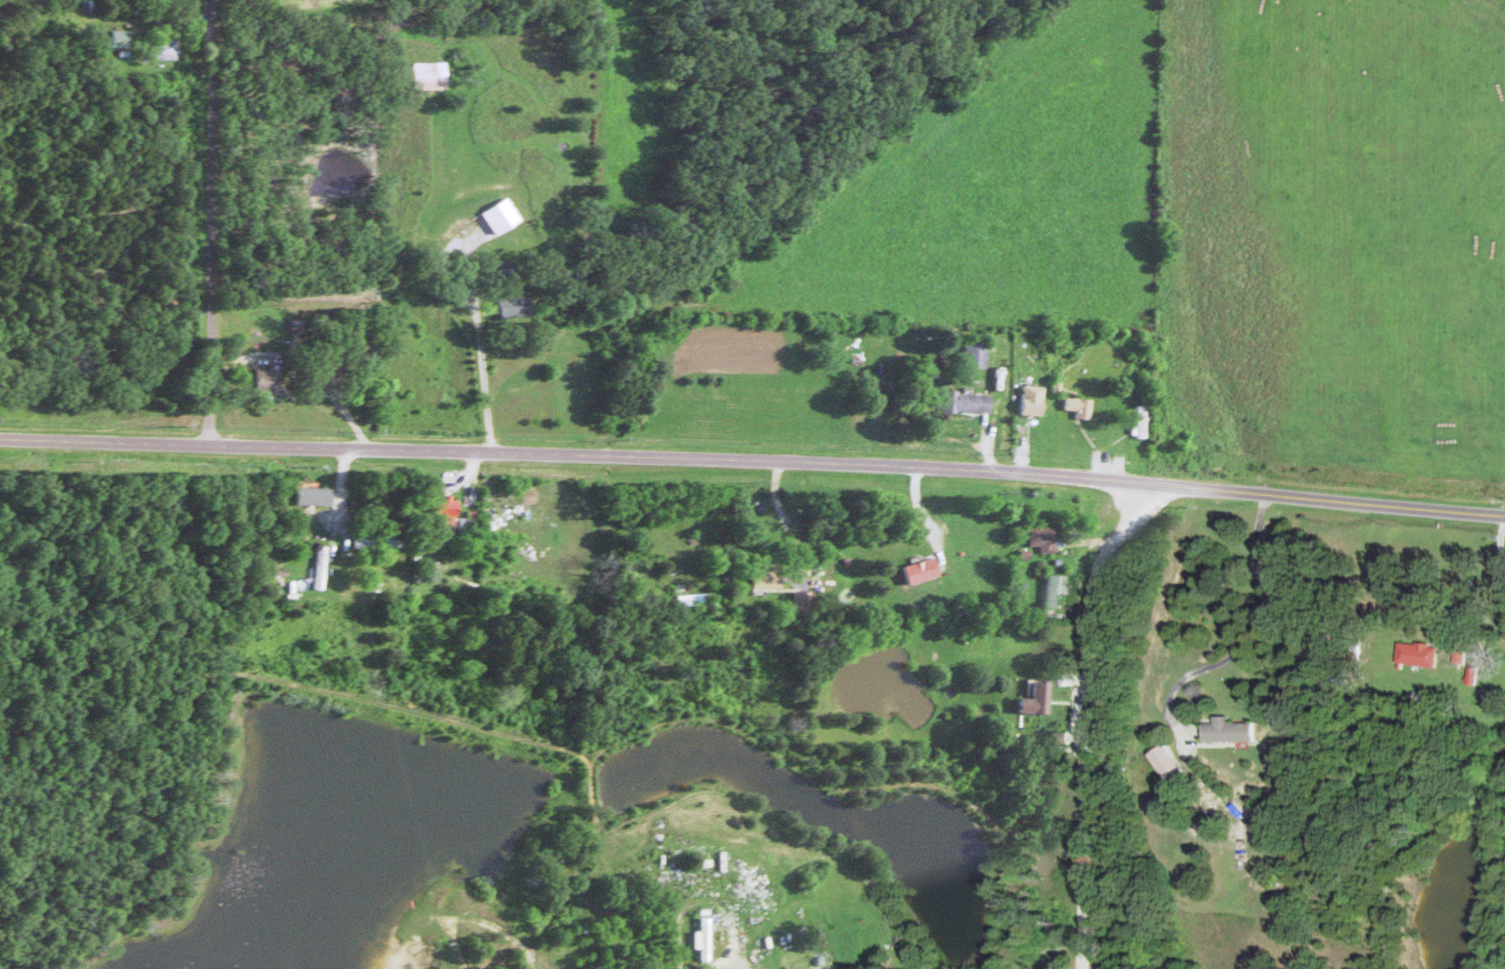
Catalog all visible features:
building: (124, 38)
building: (167, 48)
building: (433, 75)
building: (504, 216)
road: (214, 221)
building: (513, 269)
building: (980, 352)
building: (270, 381)
building: (1036, 399)
building: (972, 400)
road: (328, 405)
building: (1084, 405)
road: (753, 458)
building: (318, 494)
building: (450, 509)
road: (784, 516)
building: (471, 525)
building: (1047, 537)
building: (363, 542)
building: (390, 542)
building: (927, 569)
building: (770, 574)
building: (1060, 590)
building: (697, 598)
building: (807, 599)
road: (1498, 608)
road: (1253, 635)
building: (1425, 654)
building: (1466, 655)
building: (1042, 698)
road: (1086, 716)
building: (1234, 730)
building: (1173, 762)
building: (708, 938)
building: (840, 968)

